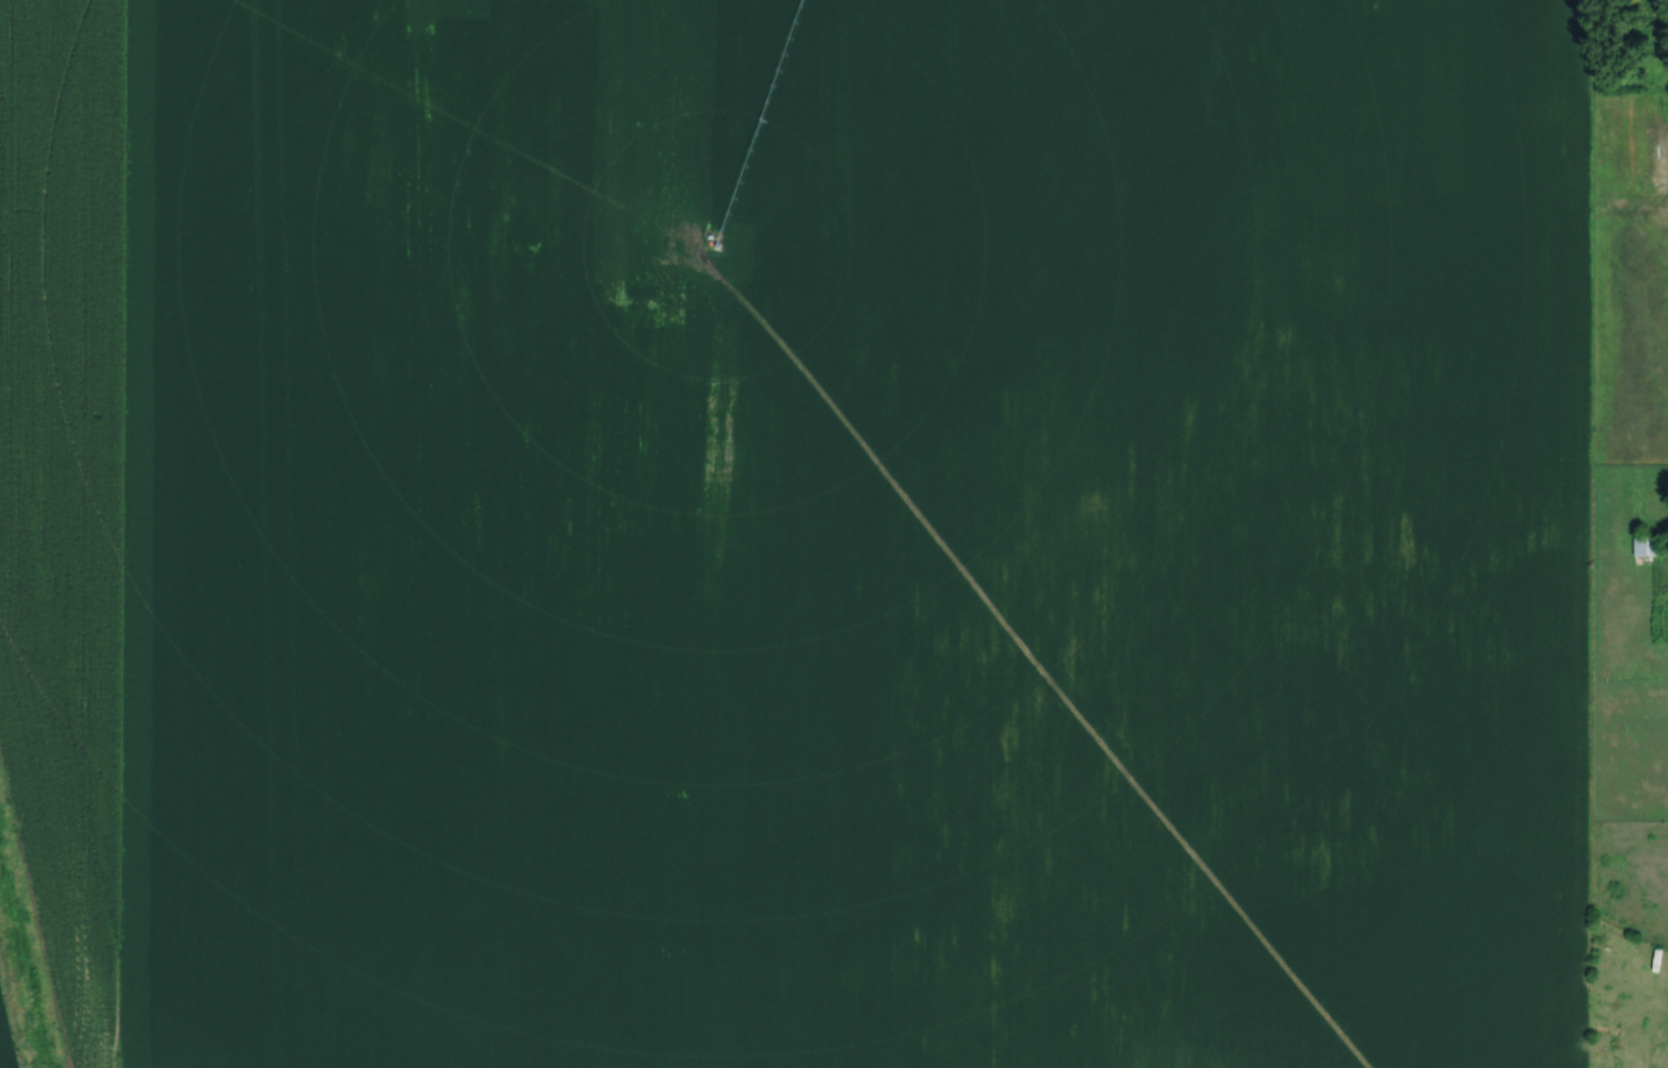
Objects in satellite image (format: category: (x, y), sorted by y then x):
building: (1648, 546)

